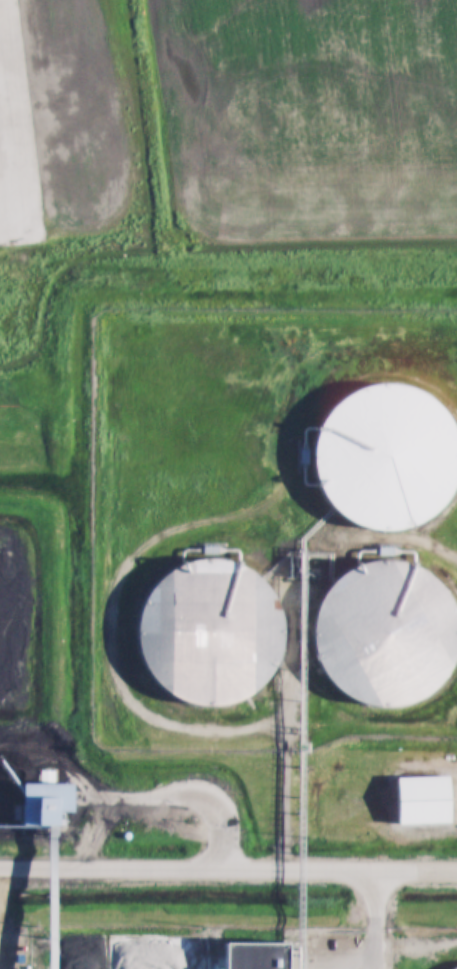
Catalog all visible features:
crop: (331, 128)
building: (379, 458)
storage tank: (379, 458)
road: (410, 541)
building: (203, 635)
storage tank: (203, 635)
building: (379, 635)
storage tank: (379, 635)
road: (288, 731)
building: (423, 798)
building: (48, 802)
road: (228, 867)
road: (373, 919)
building: (254, 955)

